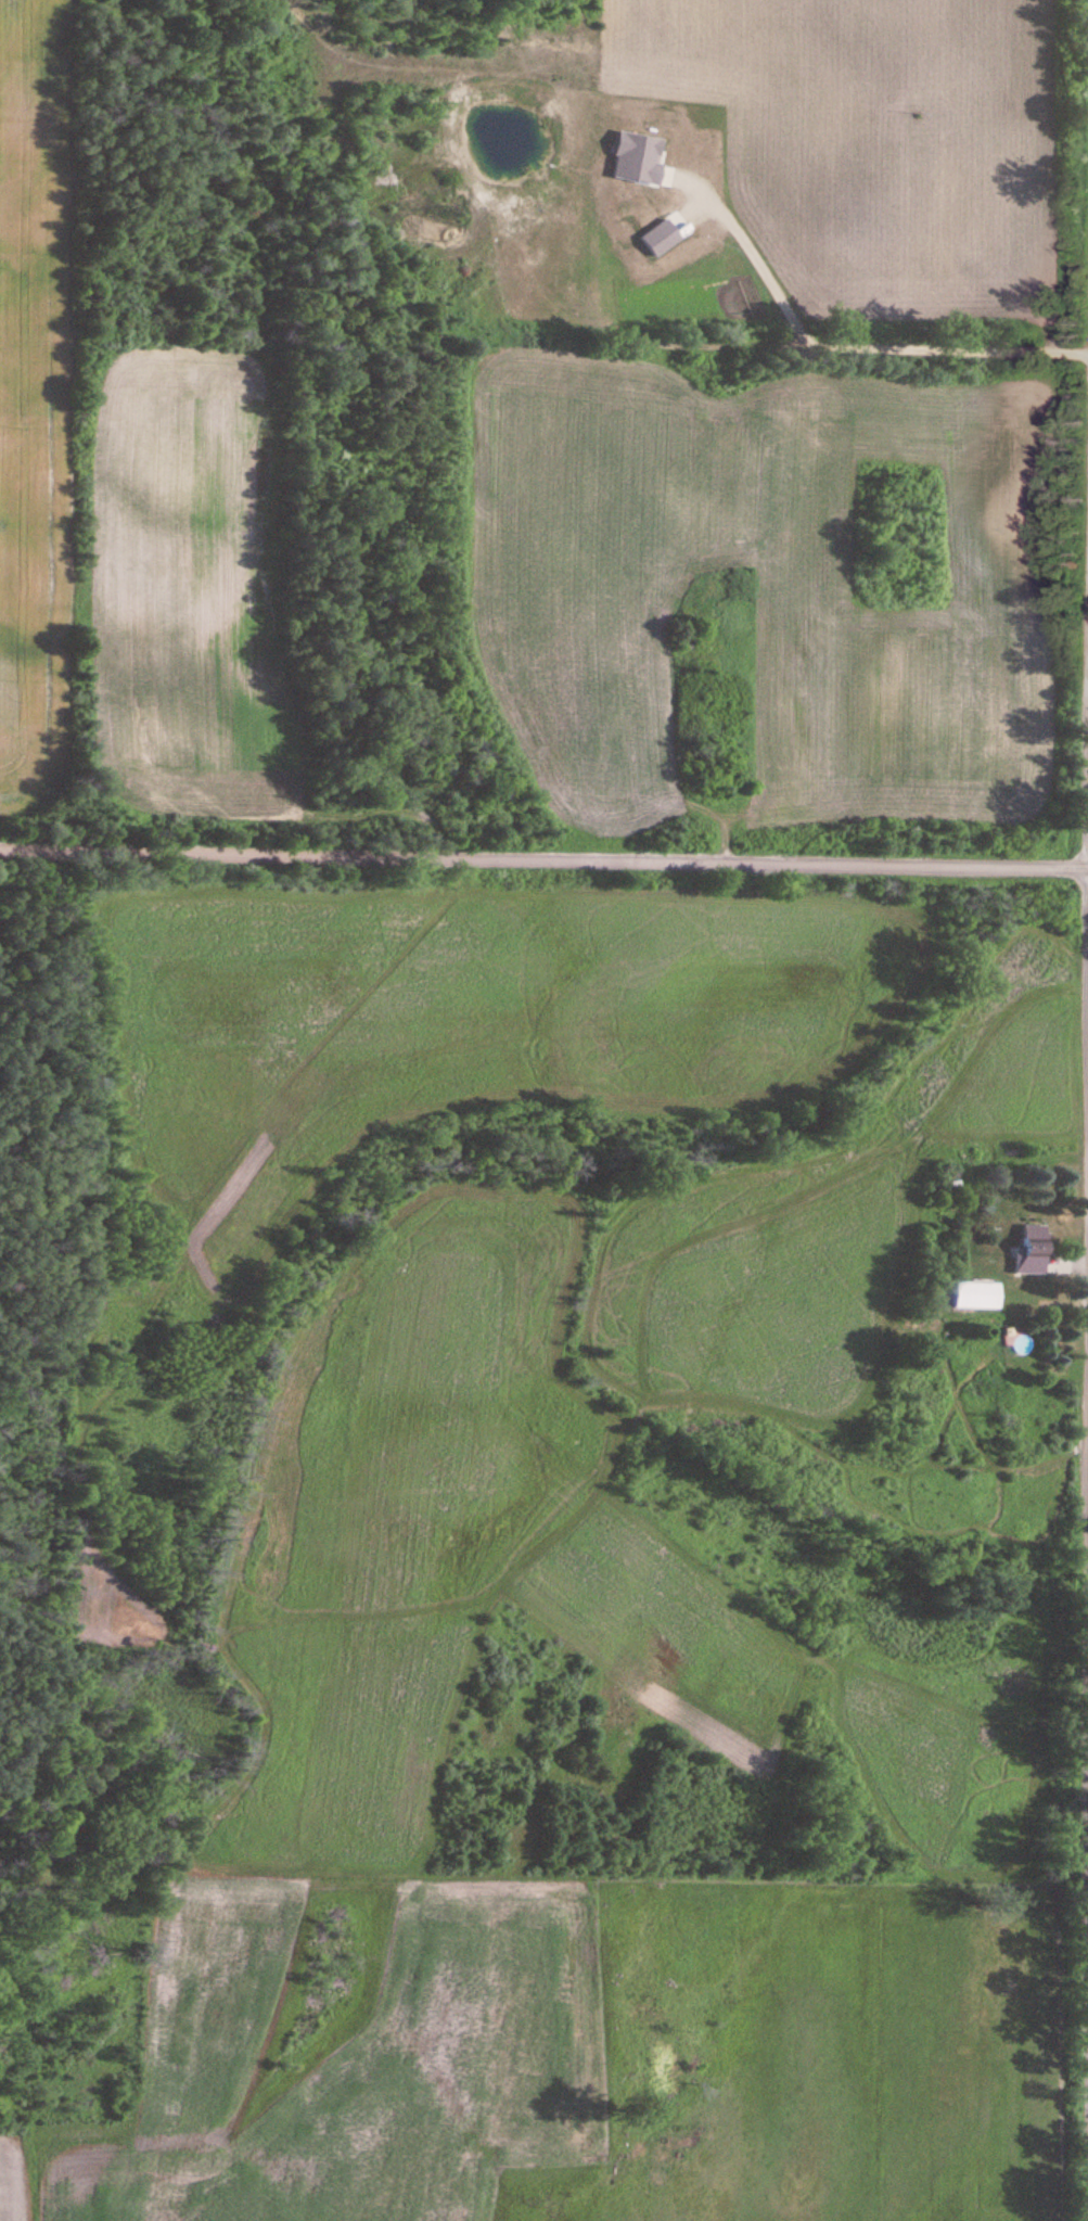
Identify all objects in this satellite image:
road: (740, 337)
road: (543, 853)
road: (1073, 1250)
building: (975, 1294)

